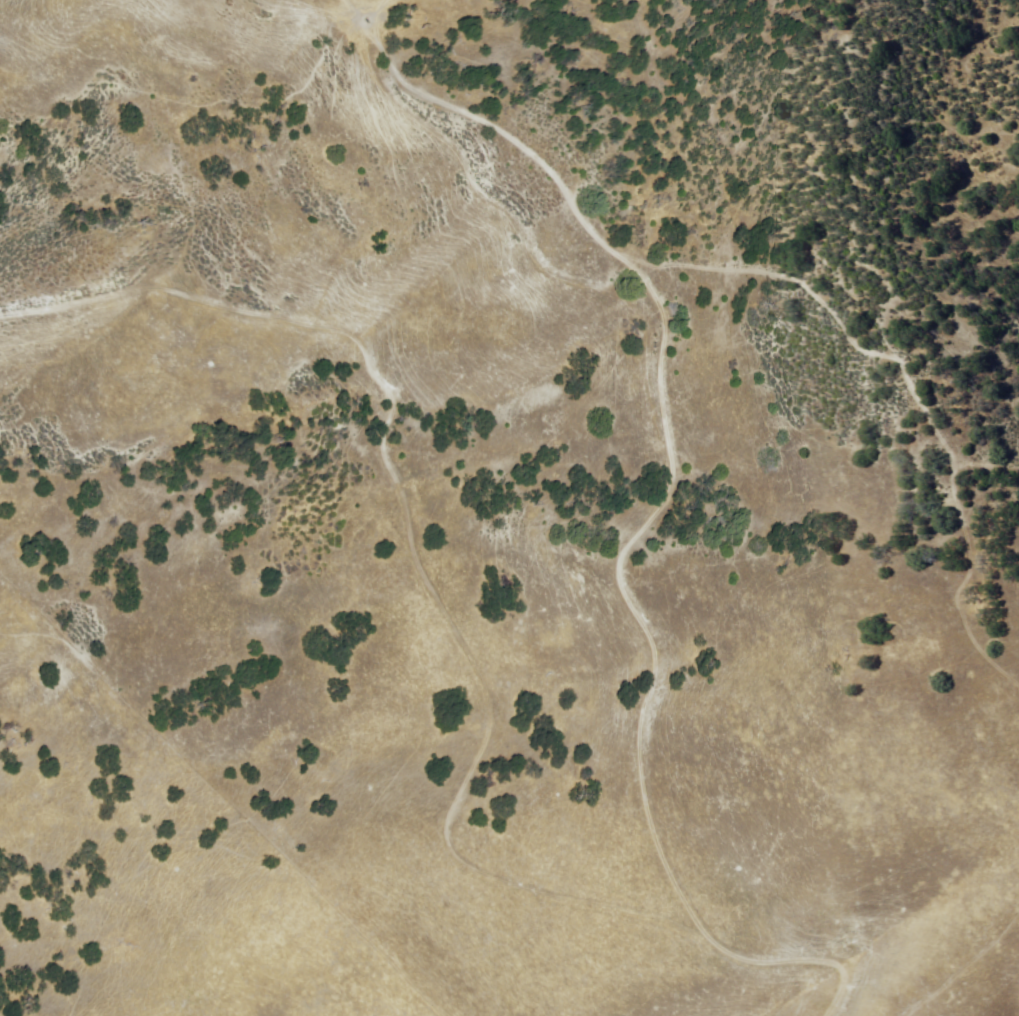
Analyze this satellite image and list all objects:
road: (662, 412)
road: (456, 642)
road: (688, 916)

